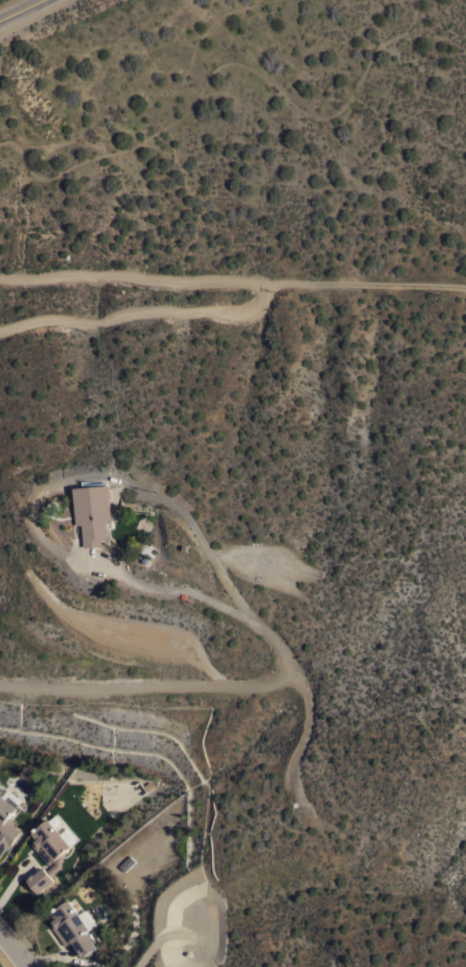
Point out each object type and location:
road: (22, 10)
road: (233, 279)
road: (141, 313)
road: (45, 489)
building: (94, 510)
road: (173, 686)
building: (8, 821)
building: (47, 853)
building: (127, 862)
building: (72, 928)
road: (15, 947)

